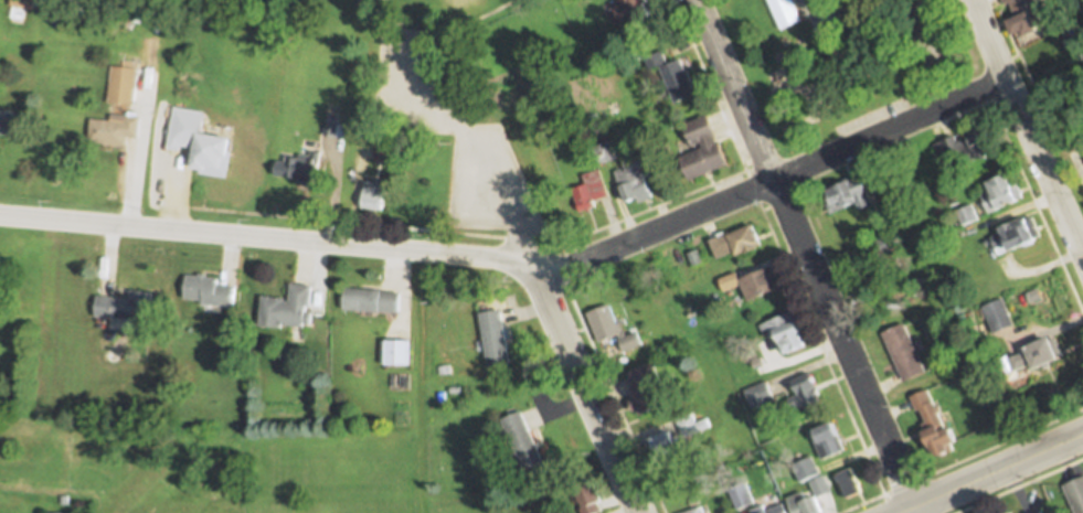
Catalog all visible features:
building: (53, 2)
building: (631, 10)
building: (785, 13)
building: (1024, 17)
road: (471, 20)
park: (852, 67)
building: (672, 73)
building: (123, 85)
road: (707, 85)
road: (739, 89)
park: (445, 117)
building: (198, 118)
building: (7, 120)
building: (335, 127)
road: (1028, 127)
building: (115, 129)
parking lot: (453, 137)
road: (477, 142)
building: (704, 147)
building: (968, 147)
building: (385, 150)
building: (603, 151)
building: (209, 157)
building: (301, 168)
building: (633, 180)
building: (590, 191)
building: (850, 194)
building: (1001, 194)
building: (374, 196)
road: (1034, 204)
building: (967, 214)
road: (485, 236)
building: (1016, 237)
building: (736, 242)
building: (879, 247)
building: (694, 258)
road: (523, 265)
building: (871, 278)
building: (752, 284)
building: (211, 290)
building: (370, 300)
building: (128, 308)
building: (288, 308)
building: (998, 316)
building: (610, 328)
building: (788, 332)
road: (813, 332)
building: (496, 339)
road: (845, 343)
building: (905, 352)
building: (396, 353)
building: (1040, 356)
building: (649, 389)
road: (592, 394)
building: (758, 395)
building: (806, 400)
building: (936, 425)
building: (692, 426)
building: (828, 441)
building: (524, 442)
building: (667, 447)
road: (635, 449)
road: (962, 461)
building: (806, 469)
road: (998, 469)
building: (849, 483)
road: (1019, 485)
road: (1015, 490)
building: (1075, 493)
building: (587, 496)
building: (740, 498)
parking lot: (1027, 501)
building: (806, 504)
building: (761, 506)
road: (907, 510)
road: (915, 510)
building: (696, 511)
building: (1015, 512)
building: (1018, 512)

